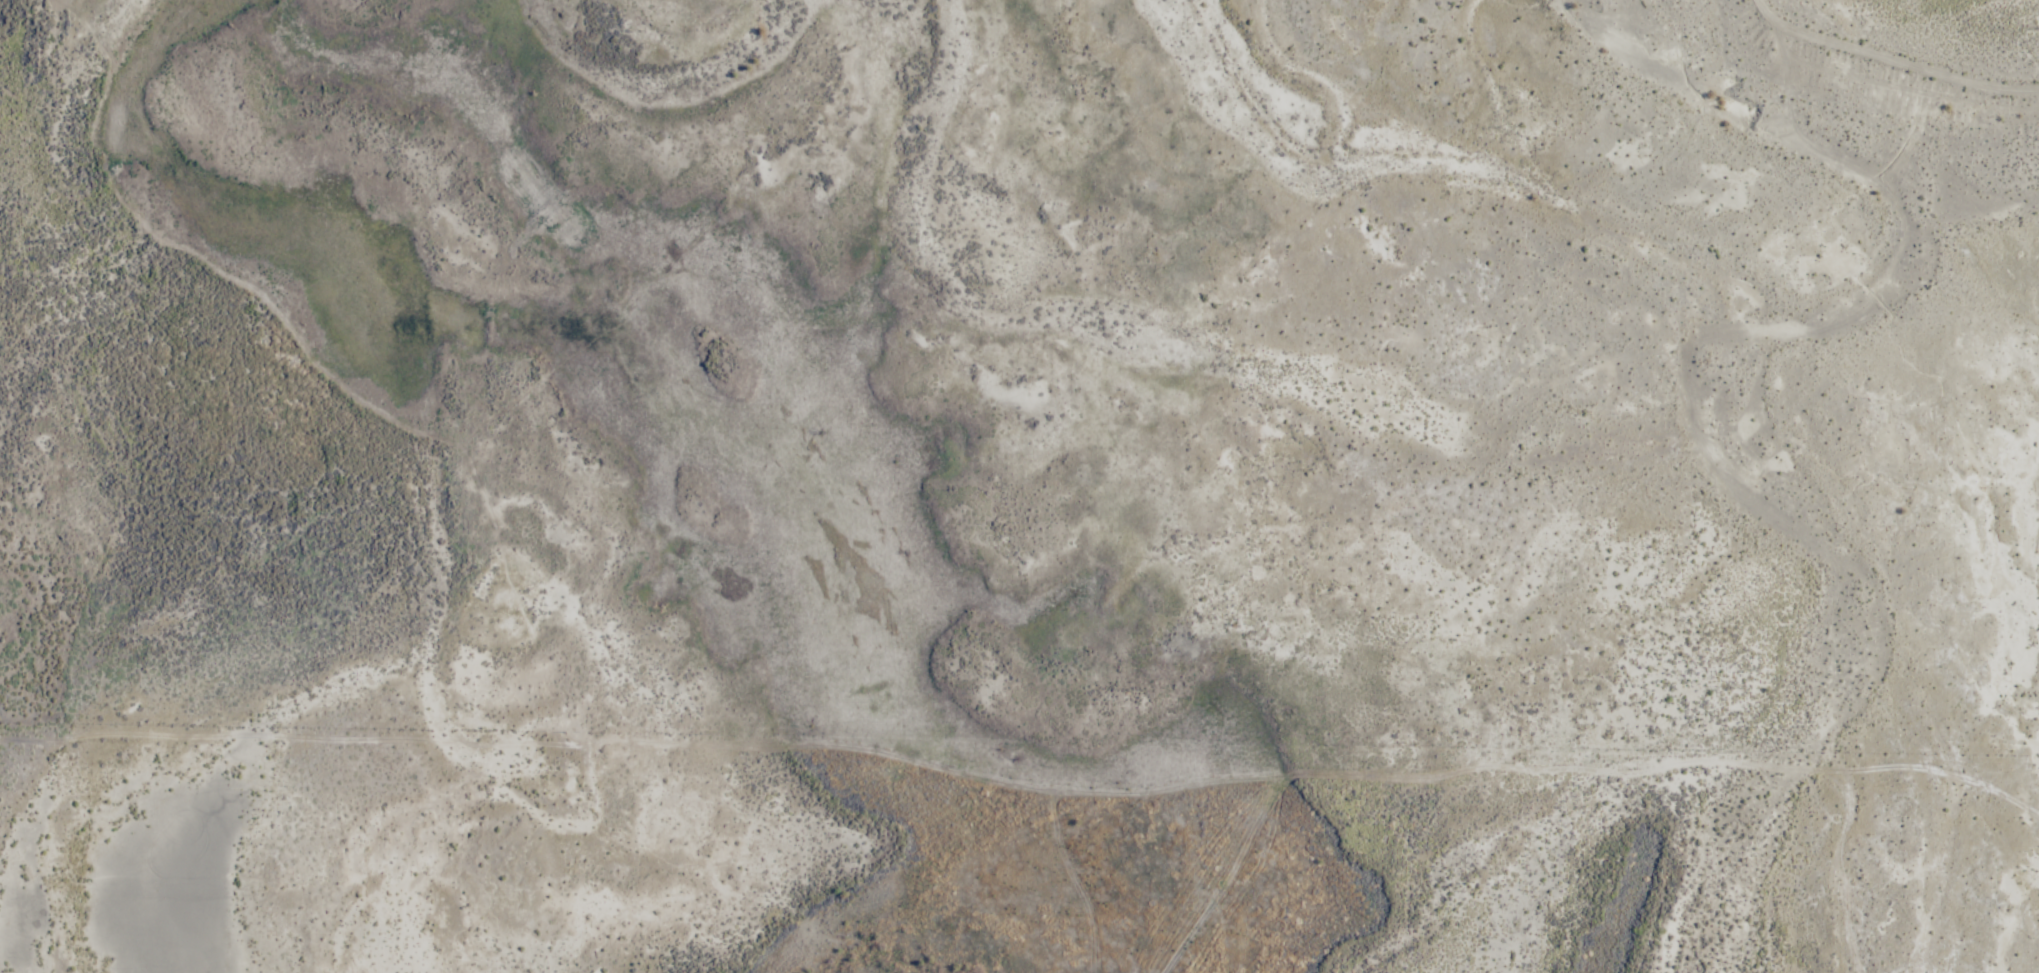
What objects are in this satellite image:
road: (1883, 64)

